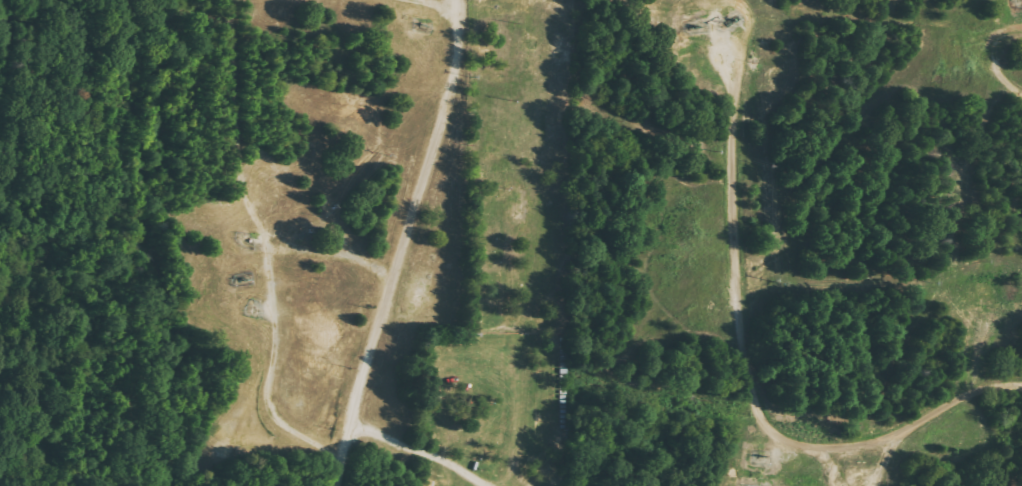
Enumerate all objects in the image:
road: (404, 243)

